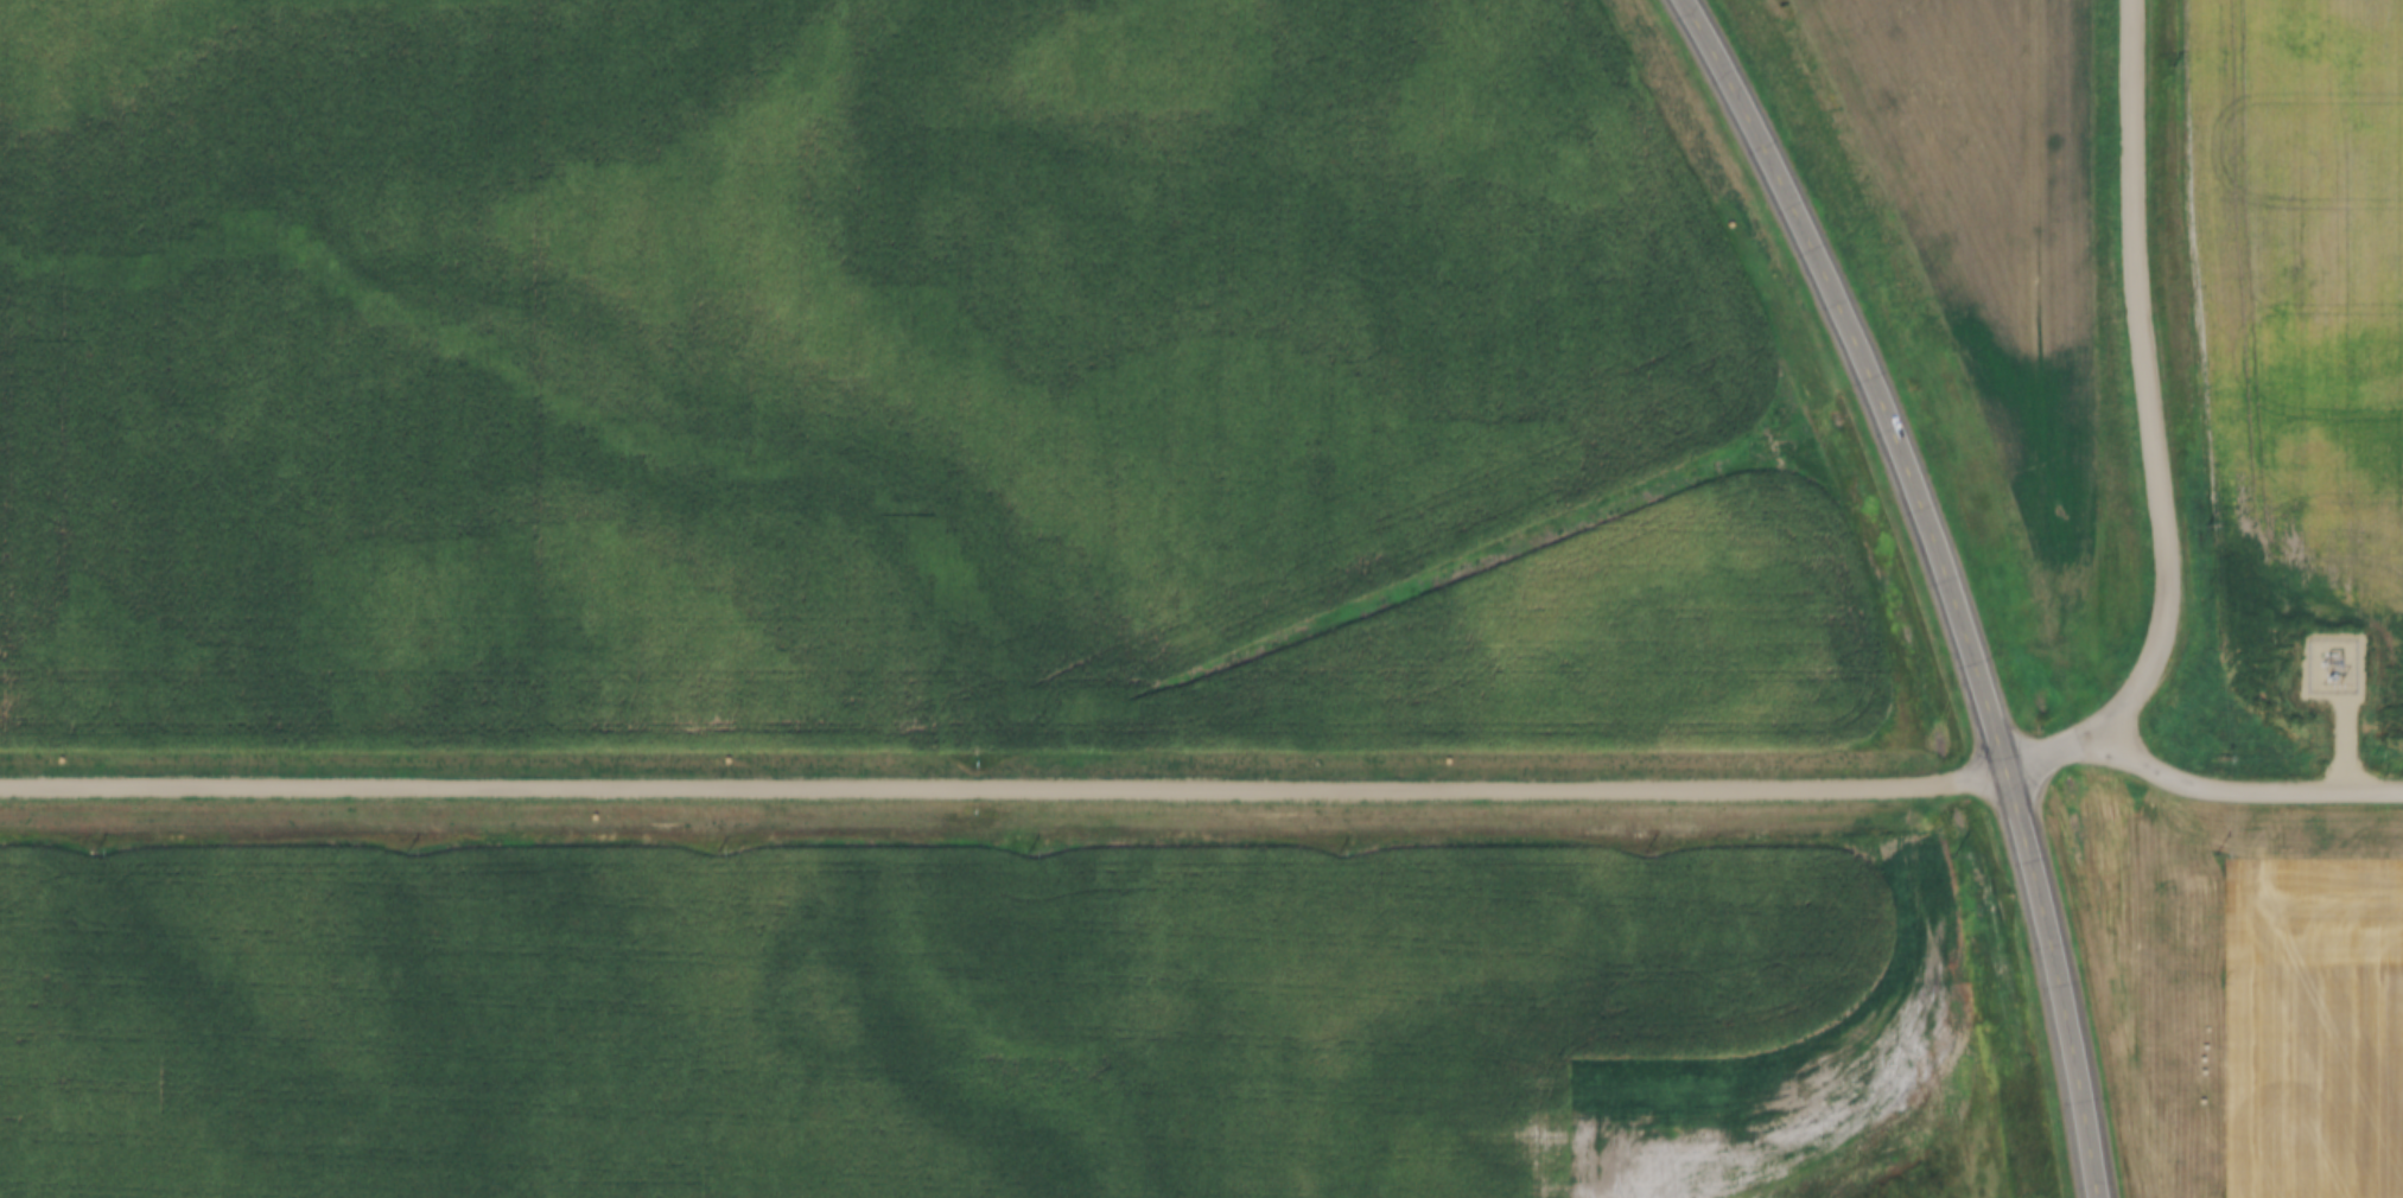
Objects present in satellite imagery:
road: (1873, 372)
road: (2159, 432)
road: (1003, 786)
road: (2249, 795)
road: (2062, 982)

